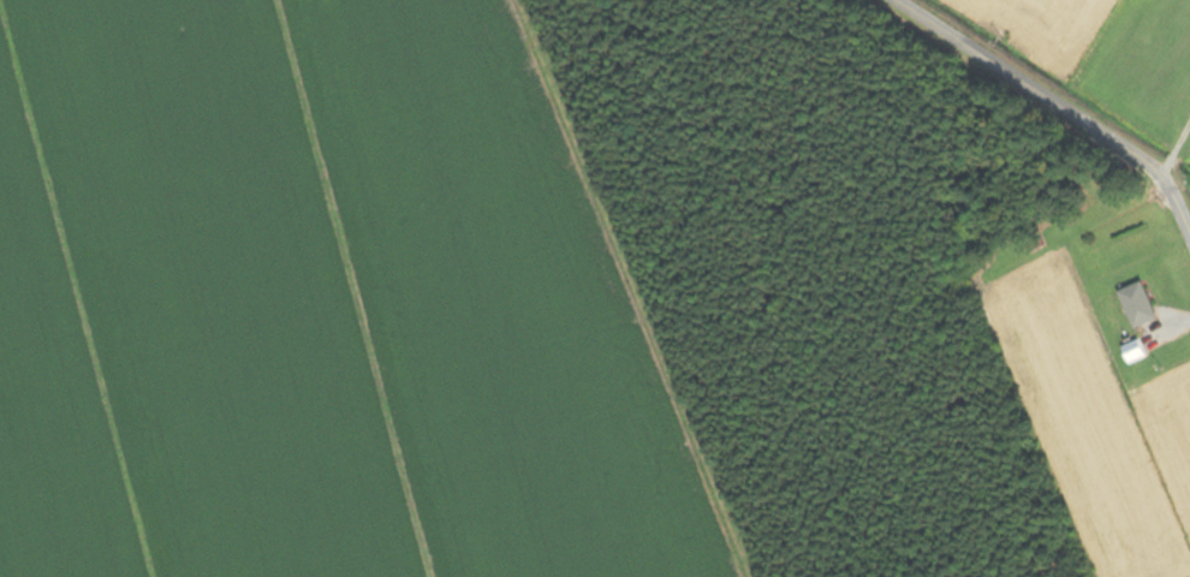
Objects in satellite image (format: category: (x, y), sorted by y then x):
road: (1061, 106)
road: (1184, 139)
road: (1176, 156)
road: (1167, 169)
building: (1140, 304)
building: (1135, 351)

